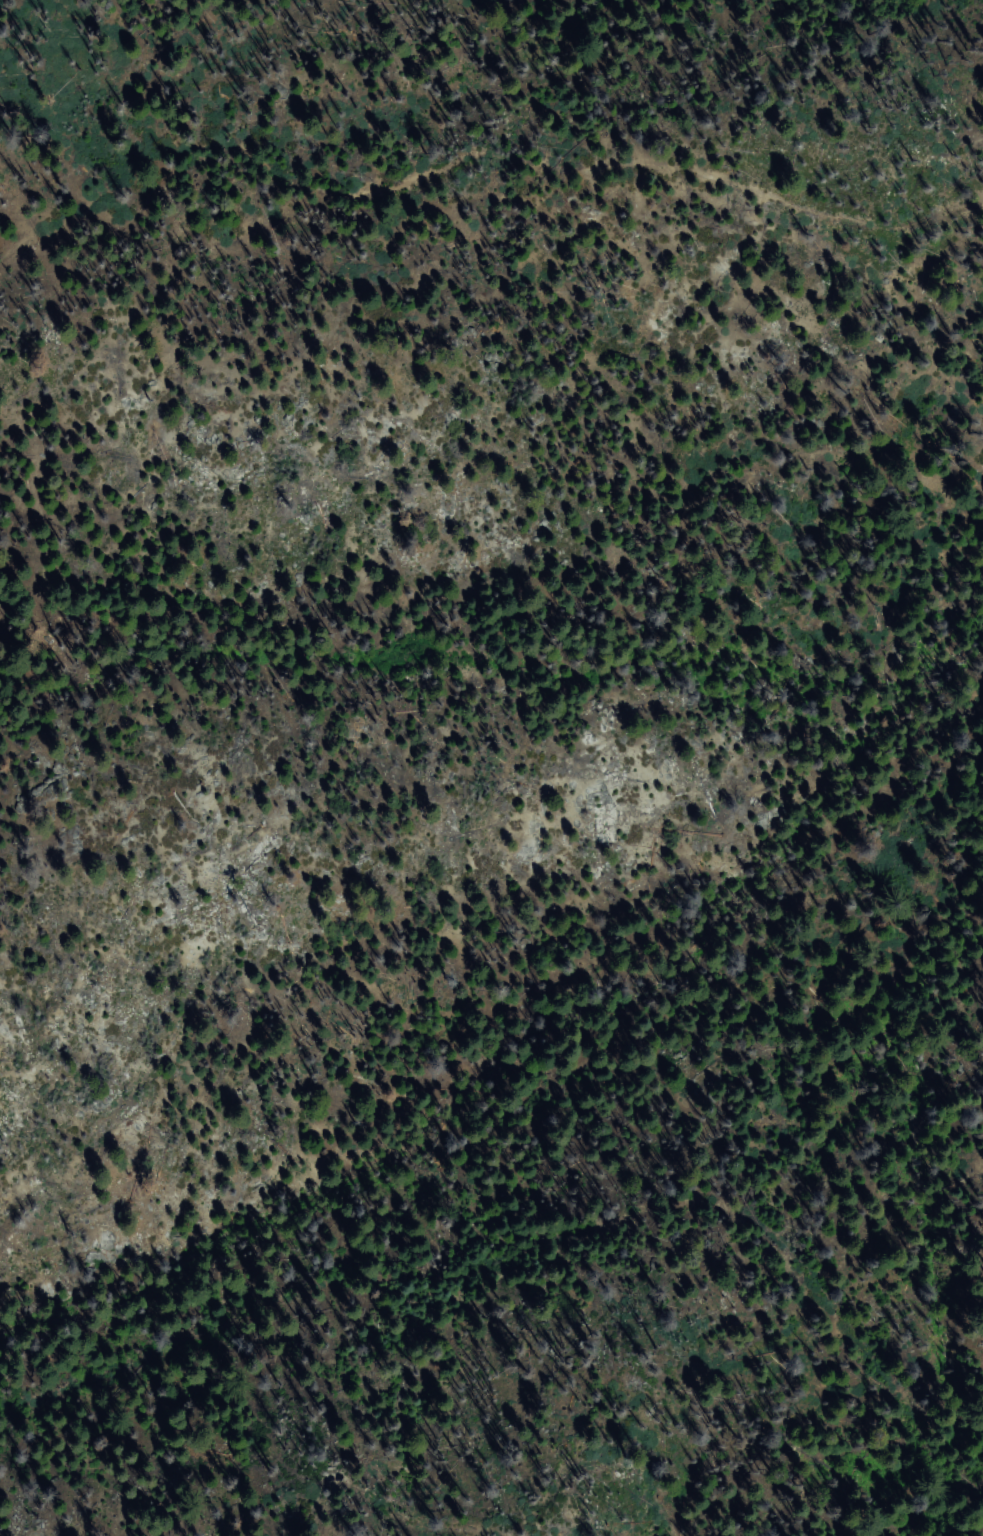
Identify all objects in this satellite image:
road: (66, 166)
road: (507, 1281)

